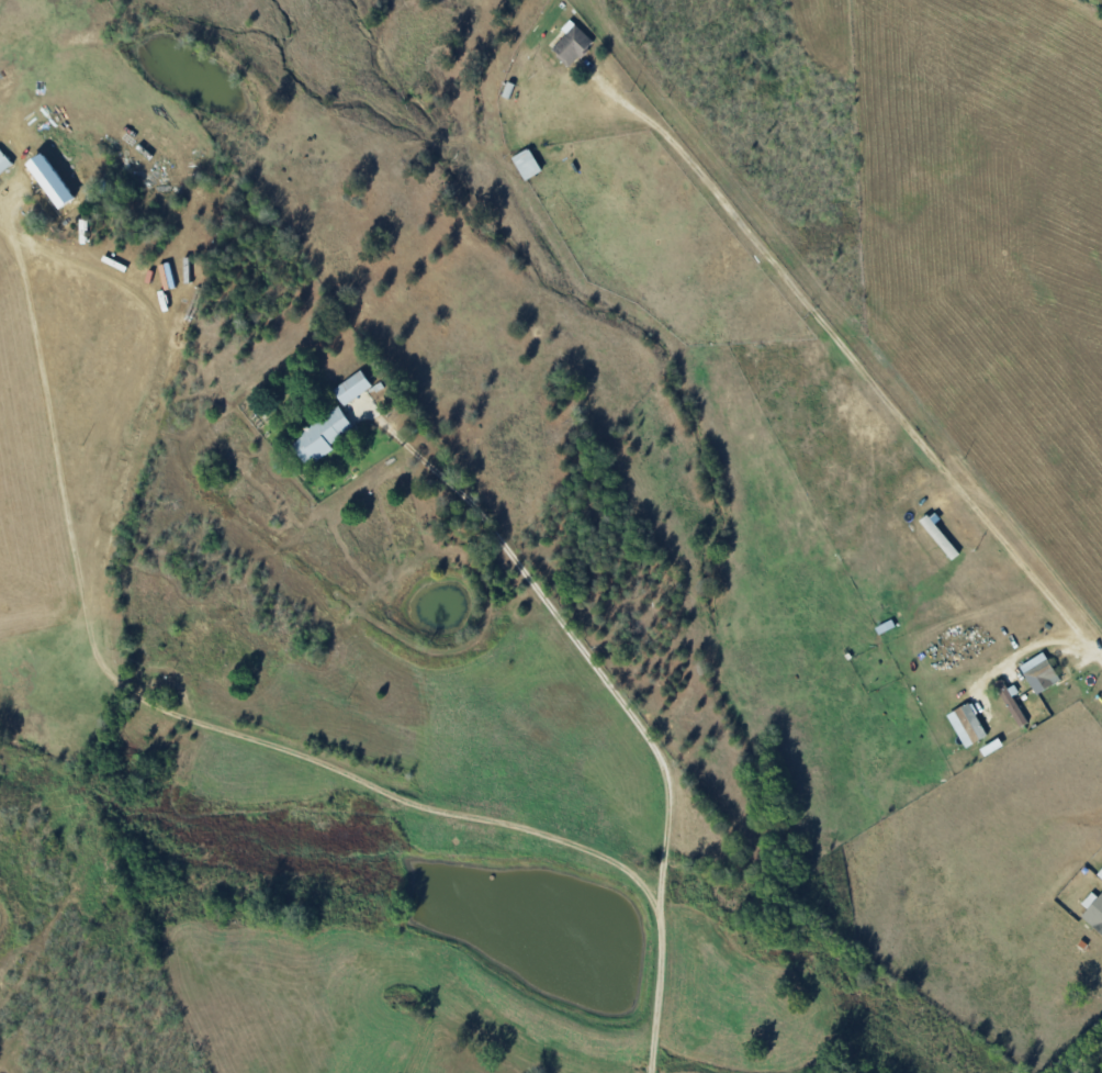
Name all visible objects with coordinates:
building: (571, 43)
building: (3, 163)
building: (526, 164)
building: (48, 180)
road: (12, 228)
road: (858, 366)
building: (351, 387)
road: (145, 414)
building: (319, 436)
road: (423, 471)
building: (940, 537)
building: (1038, 672)
building: (1011, 704)
building: (966, 724)
road: (655, 763)
road: (380, 790)
building: (1100, 873)
building: (1093, 910)
road: (1090, 1062)

